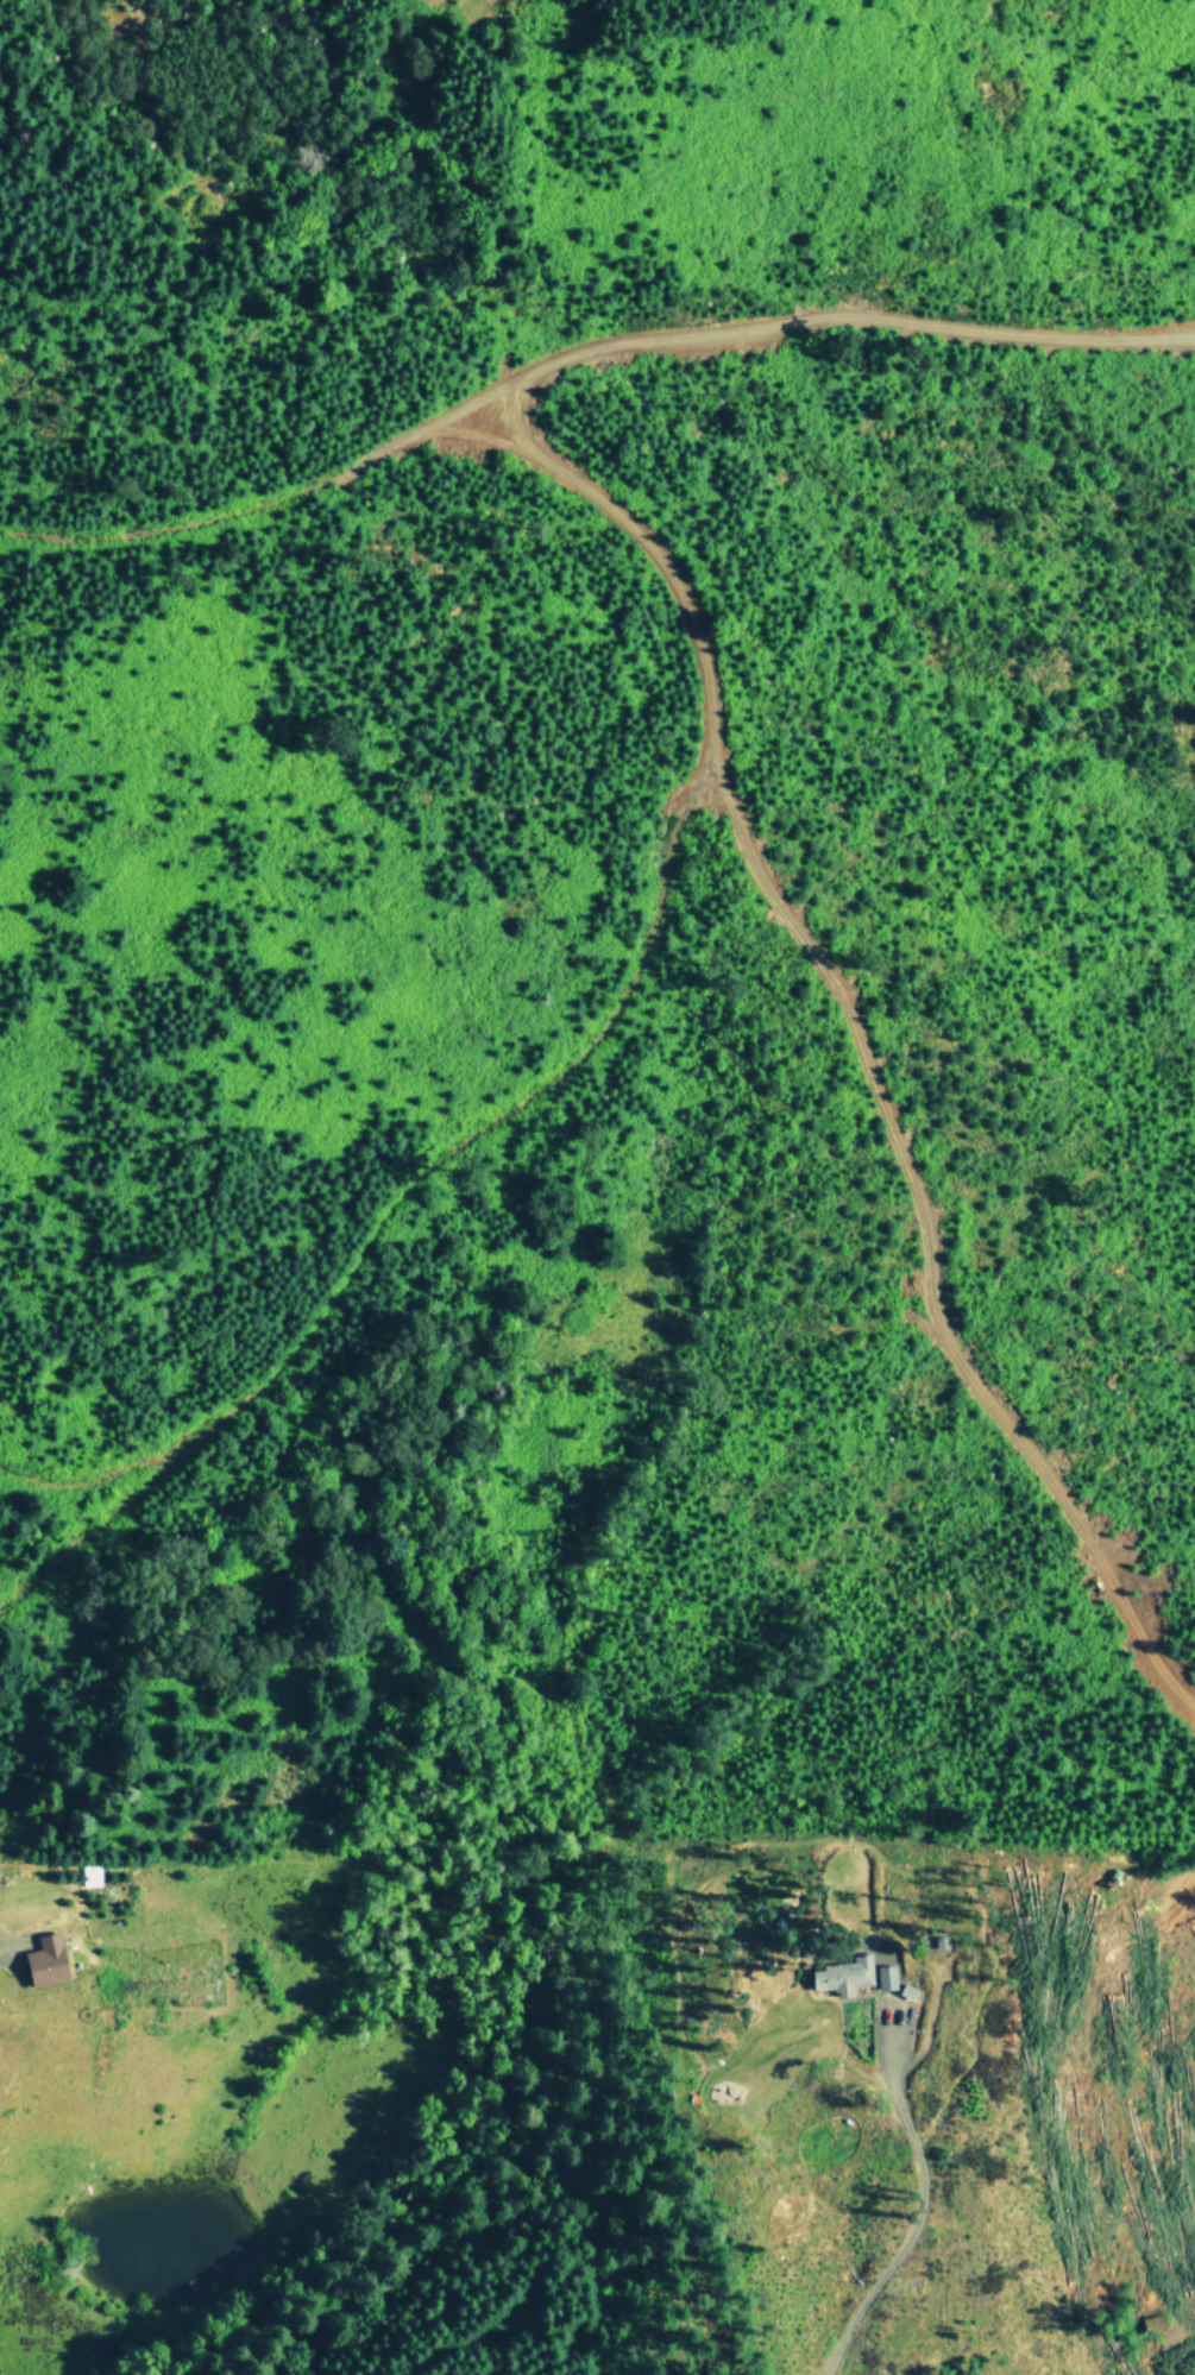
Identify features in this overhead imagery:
road: (545, 1082)
road: (2, 1944)
building: (46, 1961)
building: (843, 1976)
building: (886, 1977)
road: (913, 2218)

